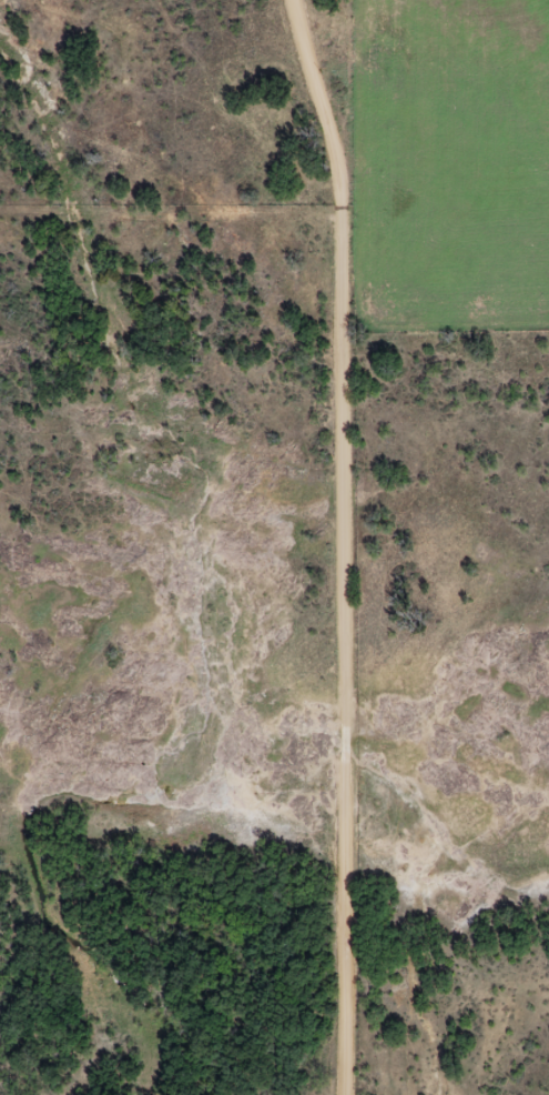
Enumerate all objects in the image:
road: (344, 544)

